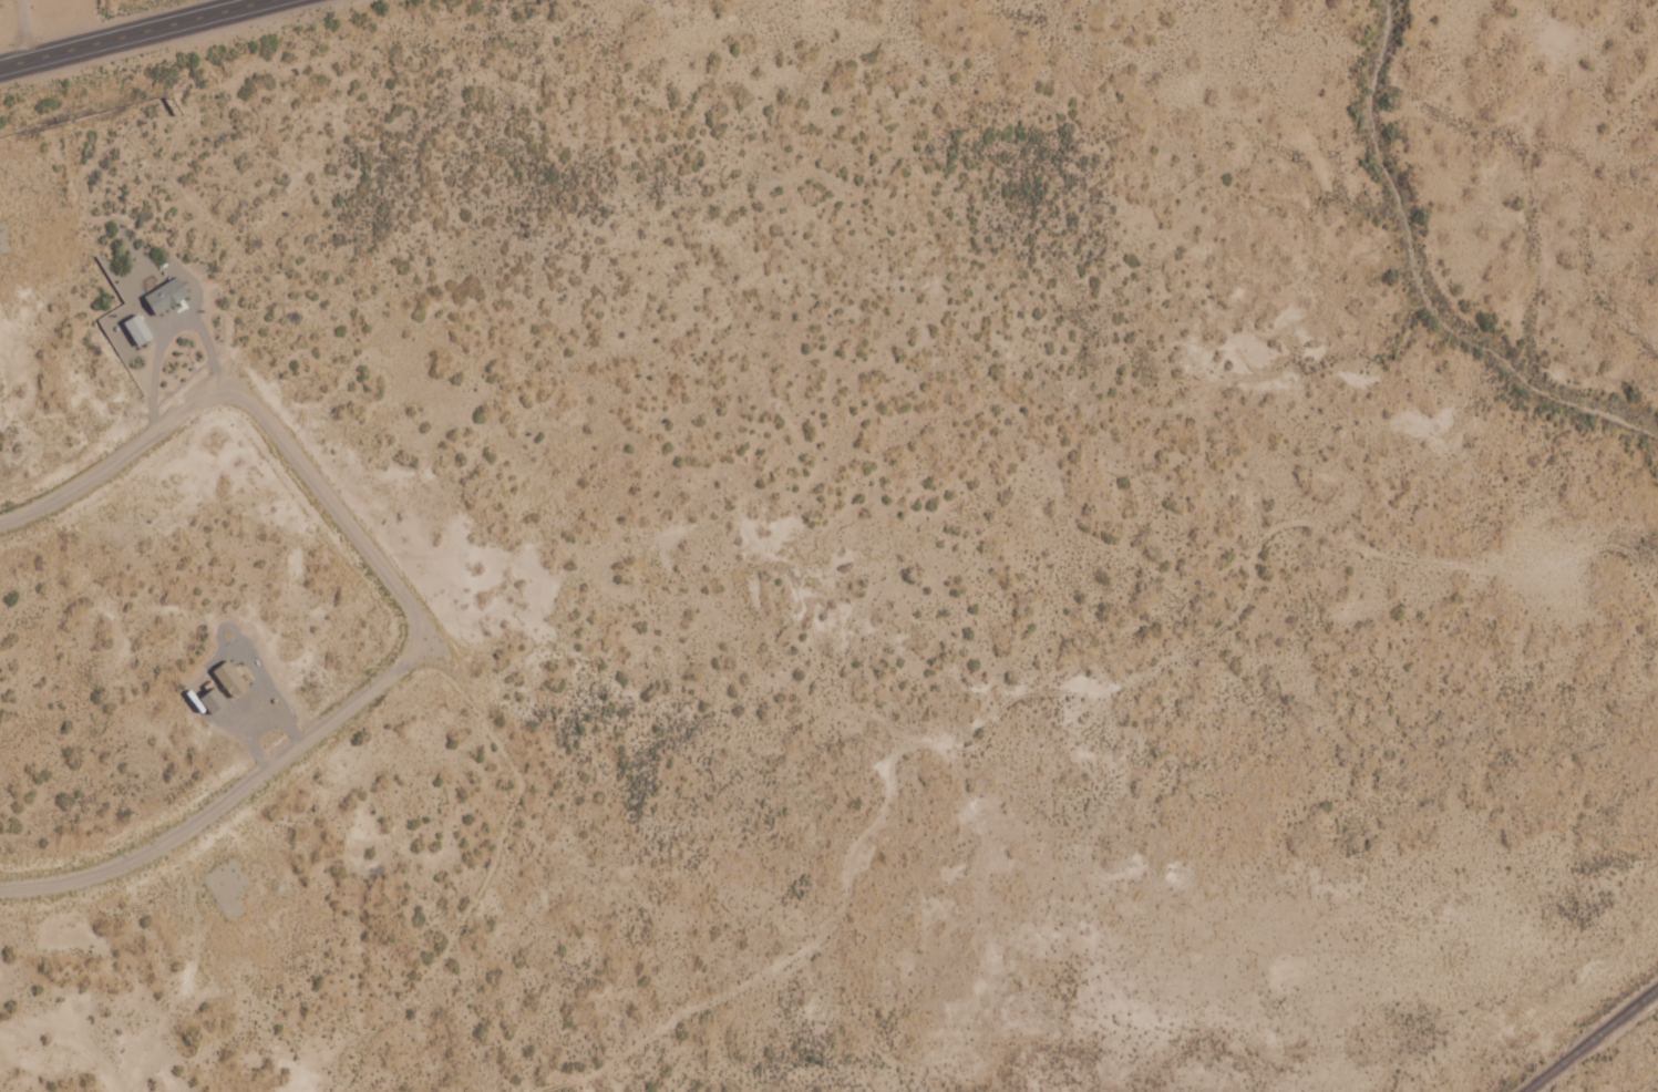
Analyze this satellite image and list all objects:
road: (134, 33)
building: (168, 295)
building: (140, 329)
railway: (1593, 1041)

